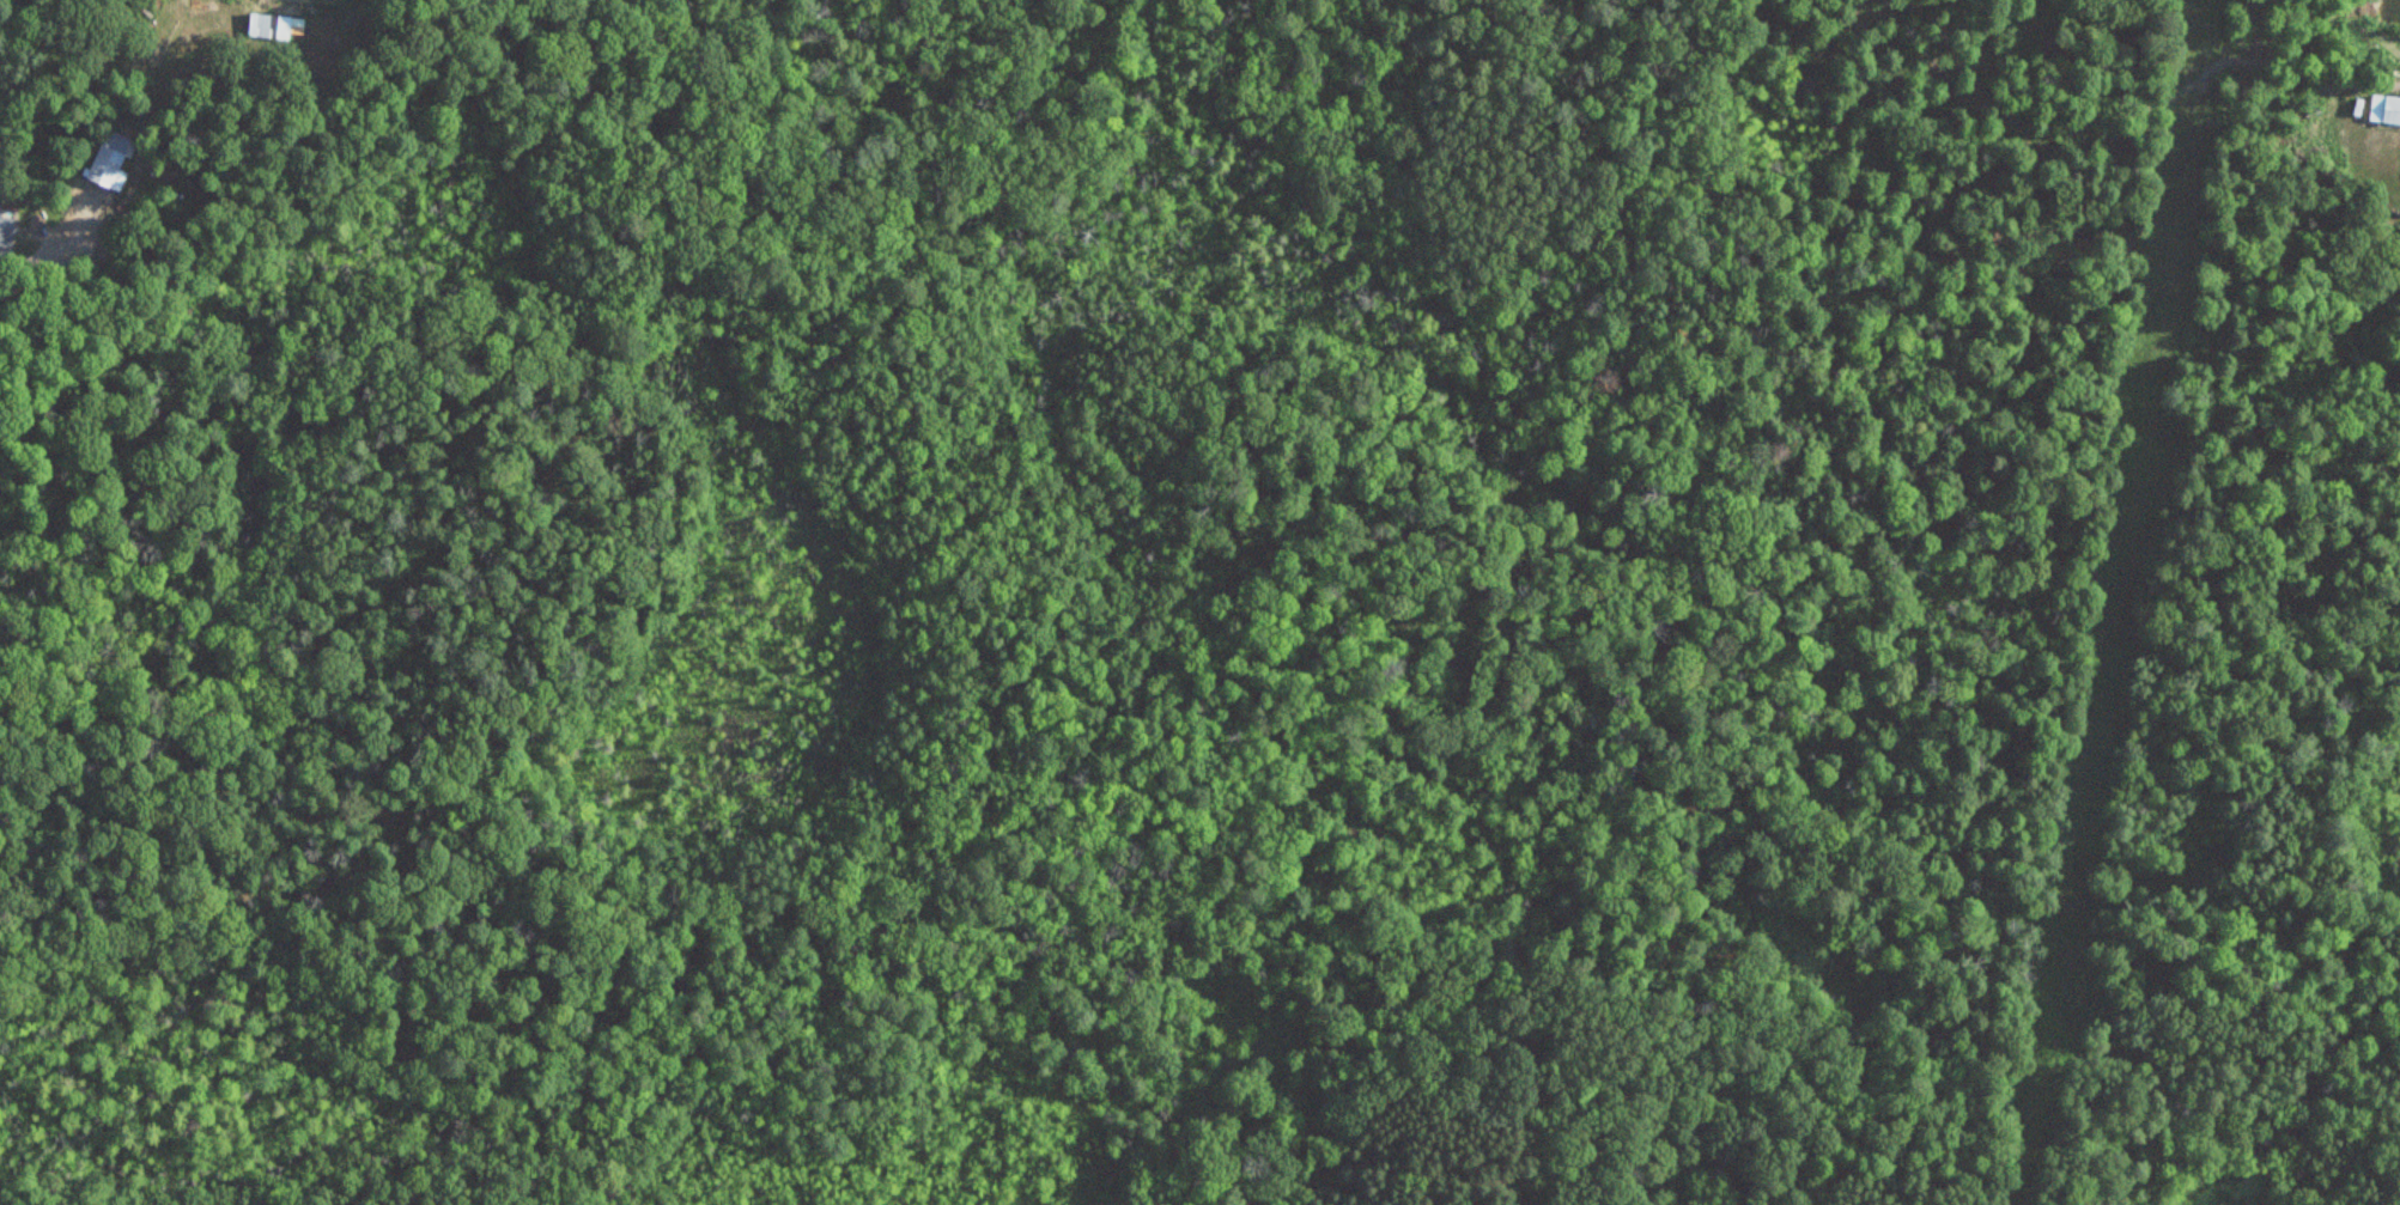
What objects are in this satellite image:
building: (2390, 112)
building: (108, 159)
building: (5, 232)

